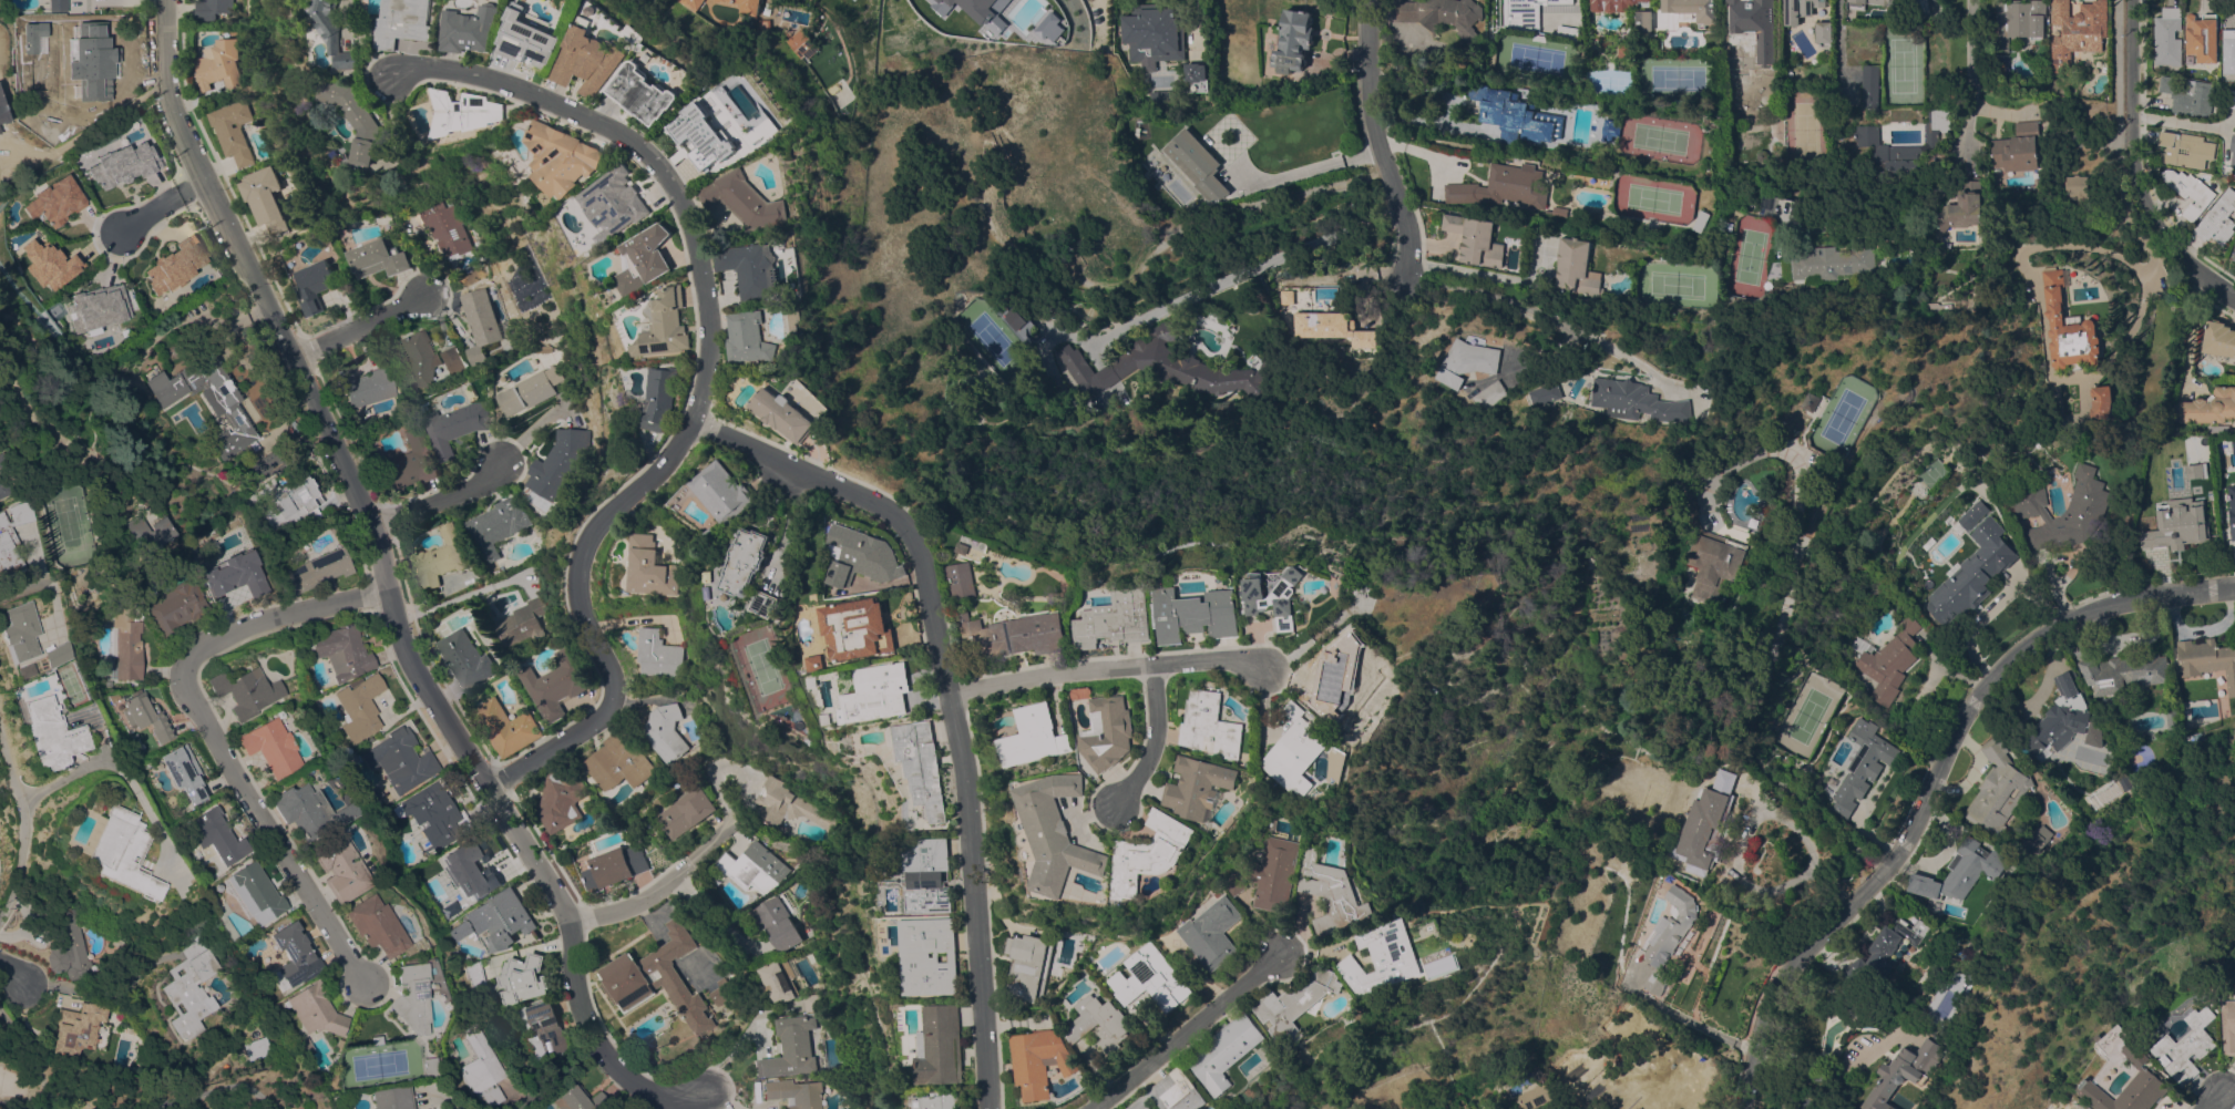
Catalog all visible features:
building: (721, 0)
building: (1558, 0)
building: (930, 1)
building: (693, 3)
building: (1617, 4)
building: (1867, 4)
building: (1918, 4)
building: (58, 6)
building: (750, 6)
building: (212, 8)
building: (1694, 9)
building: (1800, 10)
building: (980, 11)
building: (1004, 13)
building: (1438, 14)
building: (1521, 14)
building: (1643, 20)
building: (2017, 20)
building: (414, 22)
building: (766, 23)
building: (1755, 25)
building: (1052, 27)
building: (480, 28)
building: (342, 29)
building: (2077, 30)
building: (1154, 31)
building: (1824, 31)
building: (2202, 35)
building: (2169, 37)
building: (536, 39)
building: (1293, 40)
road: (1836, 41)
building: (803, 43)
building: (1626, 49)
building: (2228, 51)
building: (1734, 58)
building: (595, 59)
building: (88, 64)
building: (221, 64)
road: (1971, 75)
building: (1197, 76)
building: (1870, 86)
building: (652, 92)
building: (1161, 96)
building: (2190, 96)
building: (2232, 99)
building: (473, 112)
building: (1516, 115)
building: (365, 119)
road: (2180, 121)
building: (2, 124)
building: (47, 129)
building: (1611, 129)
building: (234, 130)
building: (711, 135)
road: (2115, 141)
road: (1378, 144)
building: (2088, 144)
building: (1872, 145)
building: (2017, 147)
building: (2186, 148)
building: (2233, 150)
building: (346, 152)
building: (568, 157)
building: (1195, 162)
building: (123, 164)
road: (1308, 167)
building: (3, 170)
road: (2133, 170)
building: (1503, 186)
building: (2077, 187)
building: (1435, 189)
building: (2192, 193)
building: (1434, 196)
building: (266, 198)
building: (752, 199)
building: (54, 201)
building: (619, 203)
building: (1961, 207)
road: (156, 210)
building: (1559, 210)
building: (1593, 215)
building: (2218, 219)
building: (1701, 220)
building: (1729, 226)
building: (447, 228)
building: (1725, 234)
building: (1476, 239)
road: (1299, 251)
building: (2234, 255)
building: (379, 258)
building: (653, 258)
building: (49, 264)
building: (177, 265)
building: (1832, 265)
building: (1577, 267)
building: (762, 268)
building: (1774, 270)
building: (316, 284)
building: (1288, 296)
building: (98, 308)
road: (1546, 316)
building: (1018, 318)
building: (1228, 320)
road: (361, 322)
building: (480, 322)
building: (675, 324)
building: (1333, 327)
building: (2068, 329)
building: (760, 337)
building: (2218, 338)
building: (542, 348)
building: (421, 358)
building: (453, 360)
building: (1468, 361)
building: (1168, 367)
building: (365, 386)
road: (711, 387)
building: (531, 389)
building: (1548, 393)
building: (1491, 394)
building: (669, 397)
building: (207, 400)
building: (1639, 400)
building: (1816, 401)
building: (2101, 401)
building: (2207, 407)
building: (794, 413)
building: (455, 425)
building: (1, 460)
building: (409, 462)
building: (558, 462)
building: (265, 465)
building: (2194, 470)
building: (4, 483)
building: (734, 490)
road: (442, 494)
building: (293, 504)
building: (2087, 505)
building: (2233, 512)
building: (1972, 514)
building: (496, 526)
building: (2173, 527)
building: (145, 530)
building: (4, 536)
building: (977, 547)
building: (876, 556)
building: (441, 557)
building: (1721, 558)
building: (657, 567)
building: (762, 568)
building: (236, 572)
building: (316, 572)
building: (1971, 573)
building: (976, 579)
road: (21, 588)
road: (383, 592)
building: (1291, 595)
building: (175, 606)
building: (1209, 614)
building: (1129, 618)
building: (523, 622)
road: (1783, 625)
building: (874, 628)
building: (17, 633)
building: (1026, 634)
building: (1129, 644)
building: (124, 645)
building: (342, 651)
building: (664, 654)
building: (53, 655)
building: (465, 658)
building: (1887, 659)
building: (2207, 660)
building: (831, 661)
road: (1126, 663)
building: (2118, 669)
building: (22, 670)
building: (1357, 670)
building: (555, 684)
building: (245, 691)
road: (963, 691)
building: (894, 692)
building: (359, 707)
building: (145, 717)
building: (2058, 718)
building: (1224, 725)
building: (506, 727)
road: (212, 728)
building: (666, 731)
building: (1120, 732)
building: (50, 735)
building: (2096, 735)
building: (1047, 736)
road: (1169, 738)
building: (270, 747)
building: (1310, 750)
building: (400, 760)
building: (617, 761)
building: (934, 763)
building: (1862, 764)
building: (183, 772)
road: (58, 779)
building: (2123, 781)
road: (1932, 782)
building: (1211, 785)
building: (2063, 785)
building: (1997, 788)
building: (560, 800)
building: (794, 804)
building: (309, 811)
building: (688, 812)
building: (433, 814)
building: (1702, 829)
building: (1066, 832)
road: (20, 834)
road: (1874, 835)
building: (216, 838)
building: (2037, 839)
building: (1751, 848)
building: (121, 852)
building: (1161, 852)
building: (614, 865)
building: (338, 867)
building: (459, 867)
building: (757, 867)
building: (1960, 871)
building: (1277, 873)
building: (936, 876)
road: (657, 887)
building: (254, 893)
building: (1339, 893)
building: (685, 915)
building: (500, 918)
road: (714, 918)
building: (778, 923)
building: (377, 927)
building: (1670, 927)
building: (458, 930)
building: (1217, 933)
building: (70, 949)
building: (1884, 952)
building: (934, 955)
building: (291, 957)
building: (1390, 959)
building: (1035, 965)
building: (1447, 965)
road: (18, 974)
building: (1157, 977)
building: (521, 978)
building: (656, 978)
building: (779, 980)
building: (1655, 982)
building: (189, 987)
building: (718, 992)
building: (411, 997)
building: (811, 1000)
building: (1301, 1003)
building: (314, 1010)
road: (1678, 1014)
building: (1103, 1021)
building: (2232, 1025)
building: (80, 1029)
building: (543, 1030)
road: (1187, 1034)
building: (305, 1046)
building: (942, 1046)
building: (2194, 1046)
road: (730, 1047)
building: (254, 1048)
building: (789, 1048)
building: (1228, 1051)
building: (1040, 1061)
building: (429, 1067)
building: (481, 1068)
building: (1903, 1072)
building: (2130, 1075)
building: (1671, 1085)
building: (1173, 1092)
building: (794, 1093)
building: (1535, 1097)
building: (391, 1098)
building: (578, 1099)
road: (721, 1099)
building: (937, 1100)
road: (2222, 1101)

